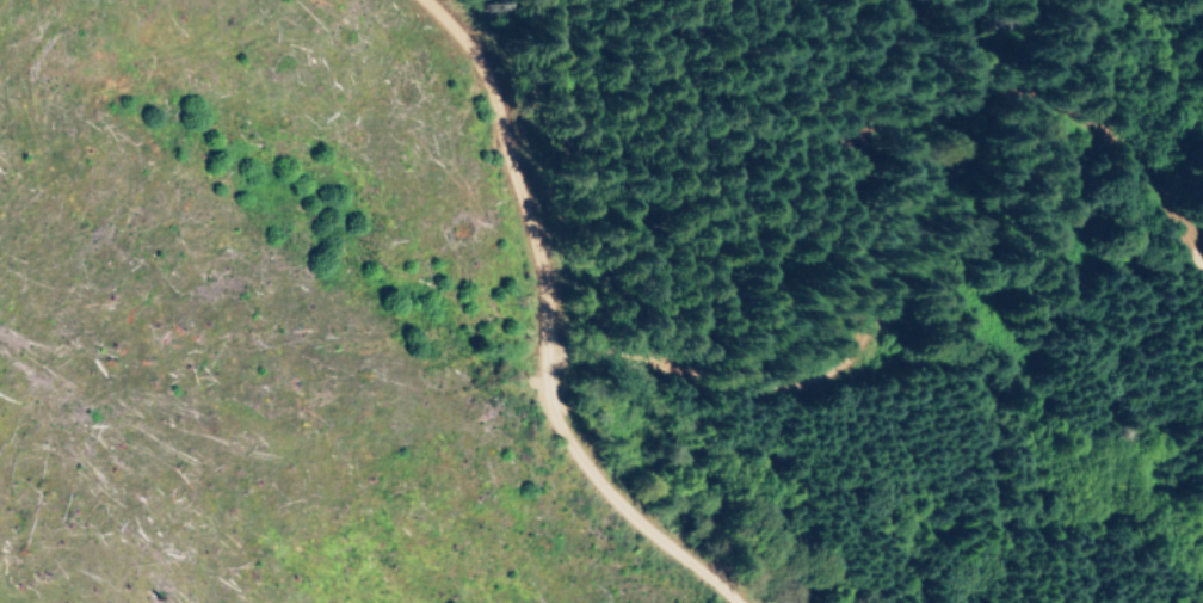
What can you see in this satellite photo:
road: (894, 196)
road: (590, 306)

